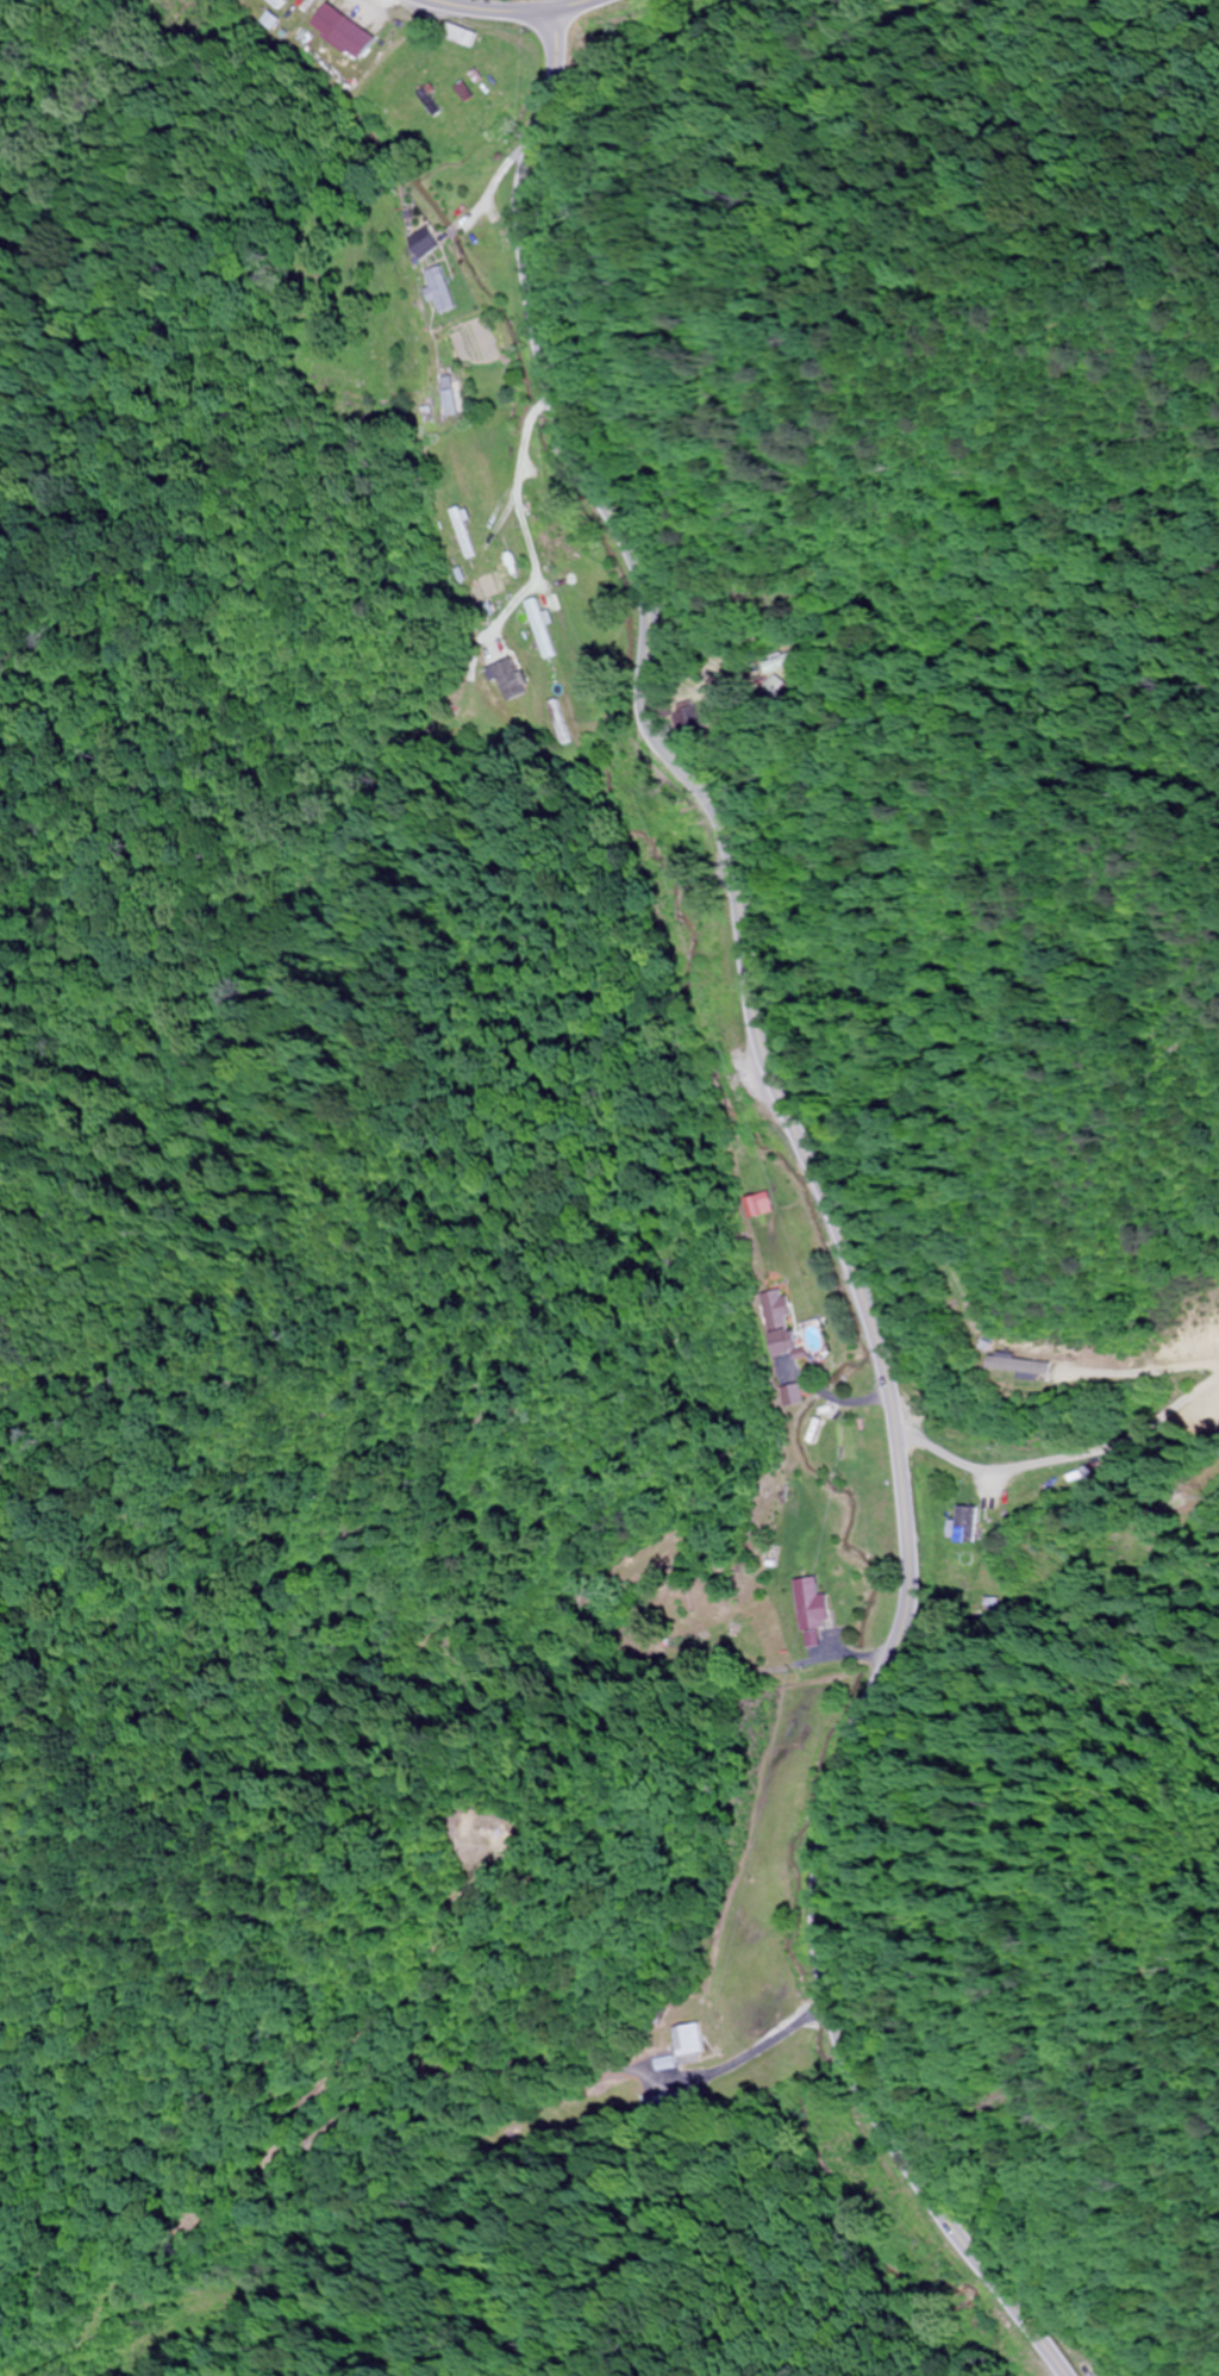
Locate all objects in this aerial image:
building: (277, 4)
road: (512, 8)
building: (462, 35)
building: (356, 38)
building: (427, 242)
building: (442, 289)
building: (449, 395)
building: (460, 534)
building: (540, 629)
building: (784, 661)
building: (508, 680)
building: (555, 723)
road: (825, 1202)
building: (759, 1204)
building: (776, 1326)
building: (1031, 1365)
building: (967, 1526)
building: (812, 1607)
building: (688, 2040)

